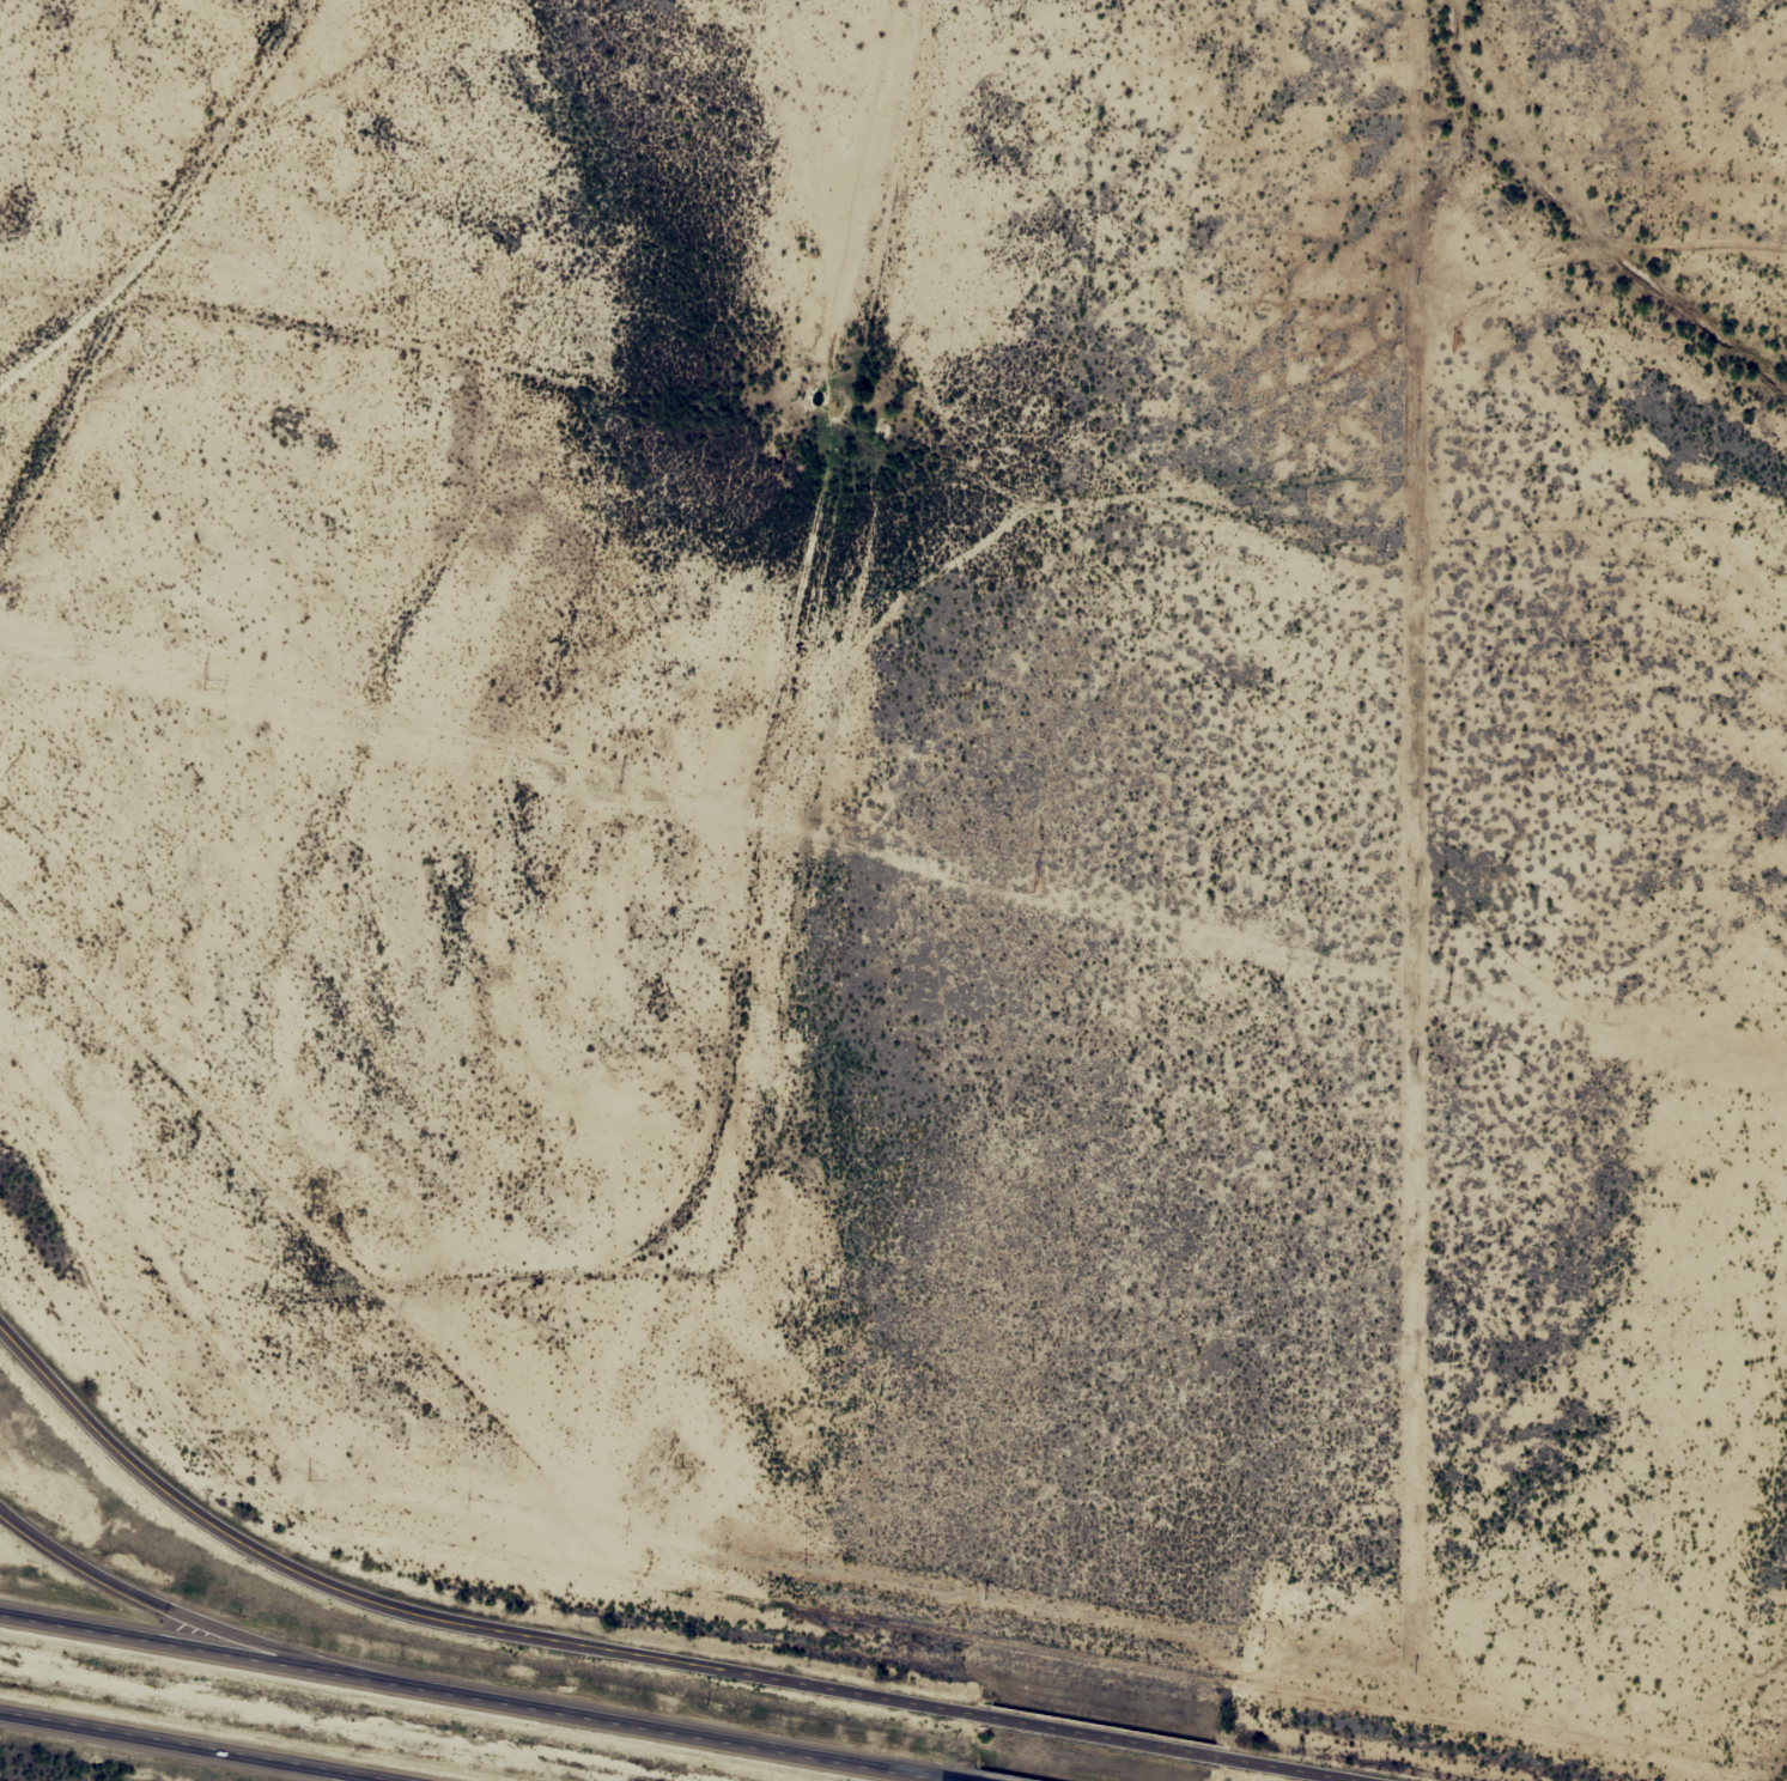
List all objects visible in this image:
road: (238, 196)
road: (361, 379)
power tower: (206, 682)
power tower: (620, 785)
power tower: (1034, 887)
power tower: (1448, 987)
road: (164, 1605)
road: (445, 1616)
road: (468, 1698)
road: (1100, 1737)
road: (171, 1752)
road: (1282, 1769)

